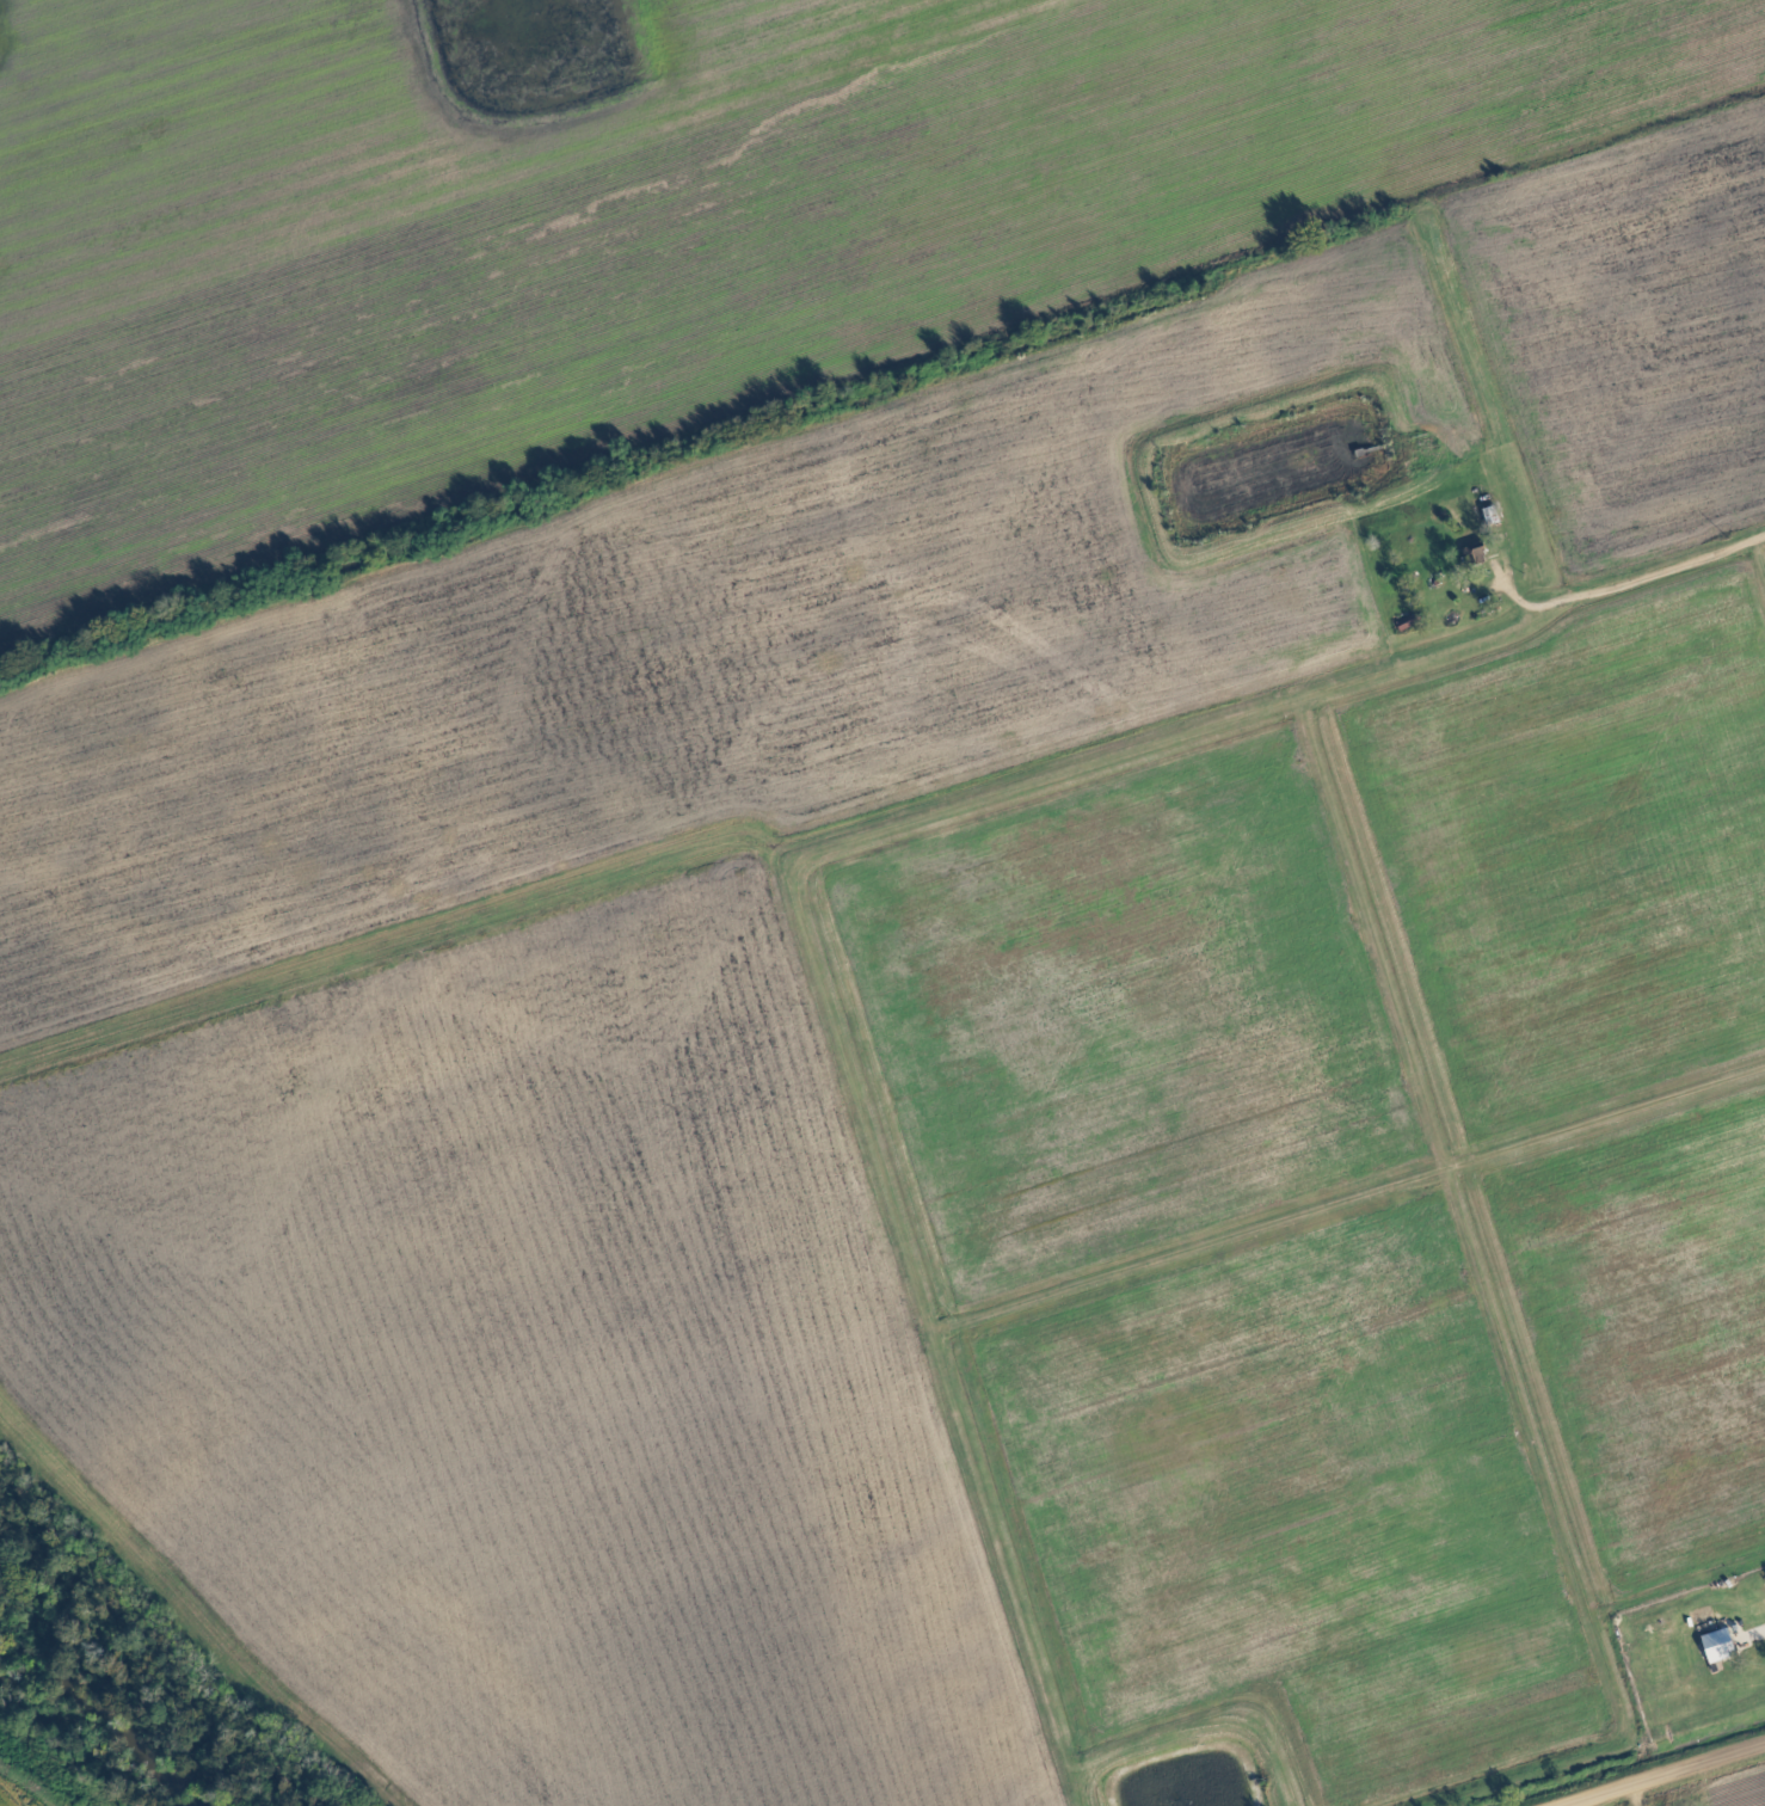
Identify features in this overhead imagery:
road: (1629, 594)
building: (1720, 1645)
road: (1672, 1776)

